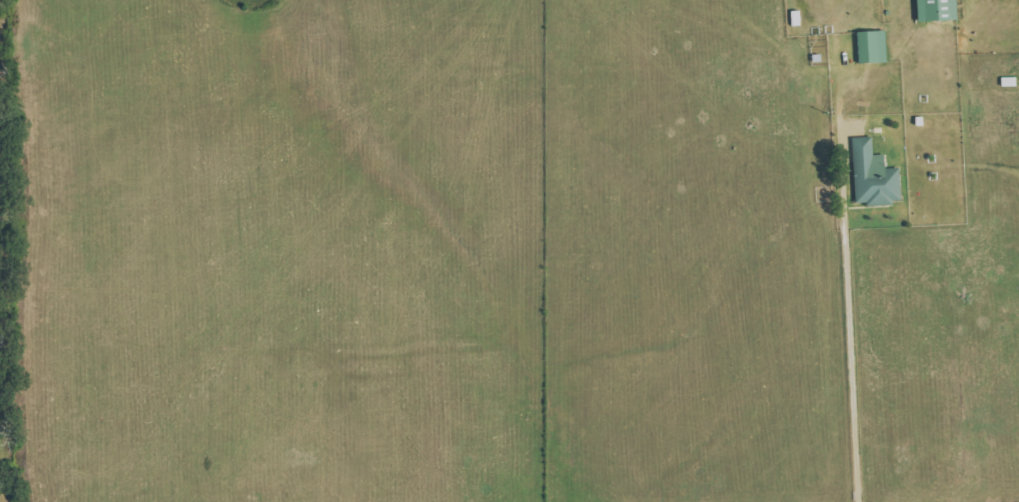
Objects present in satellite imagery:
building: (940, 10)
building: (875, 46)
building: (877, 176)
road: (846, 286)

